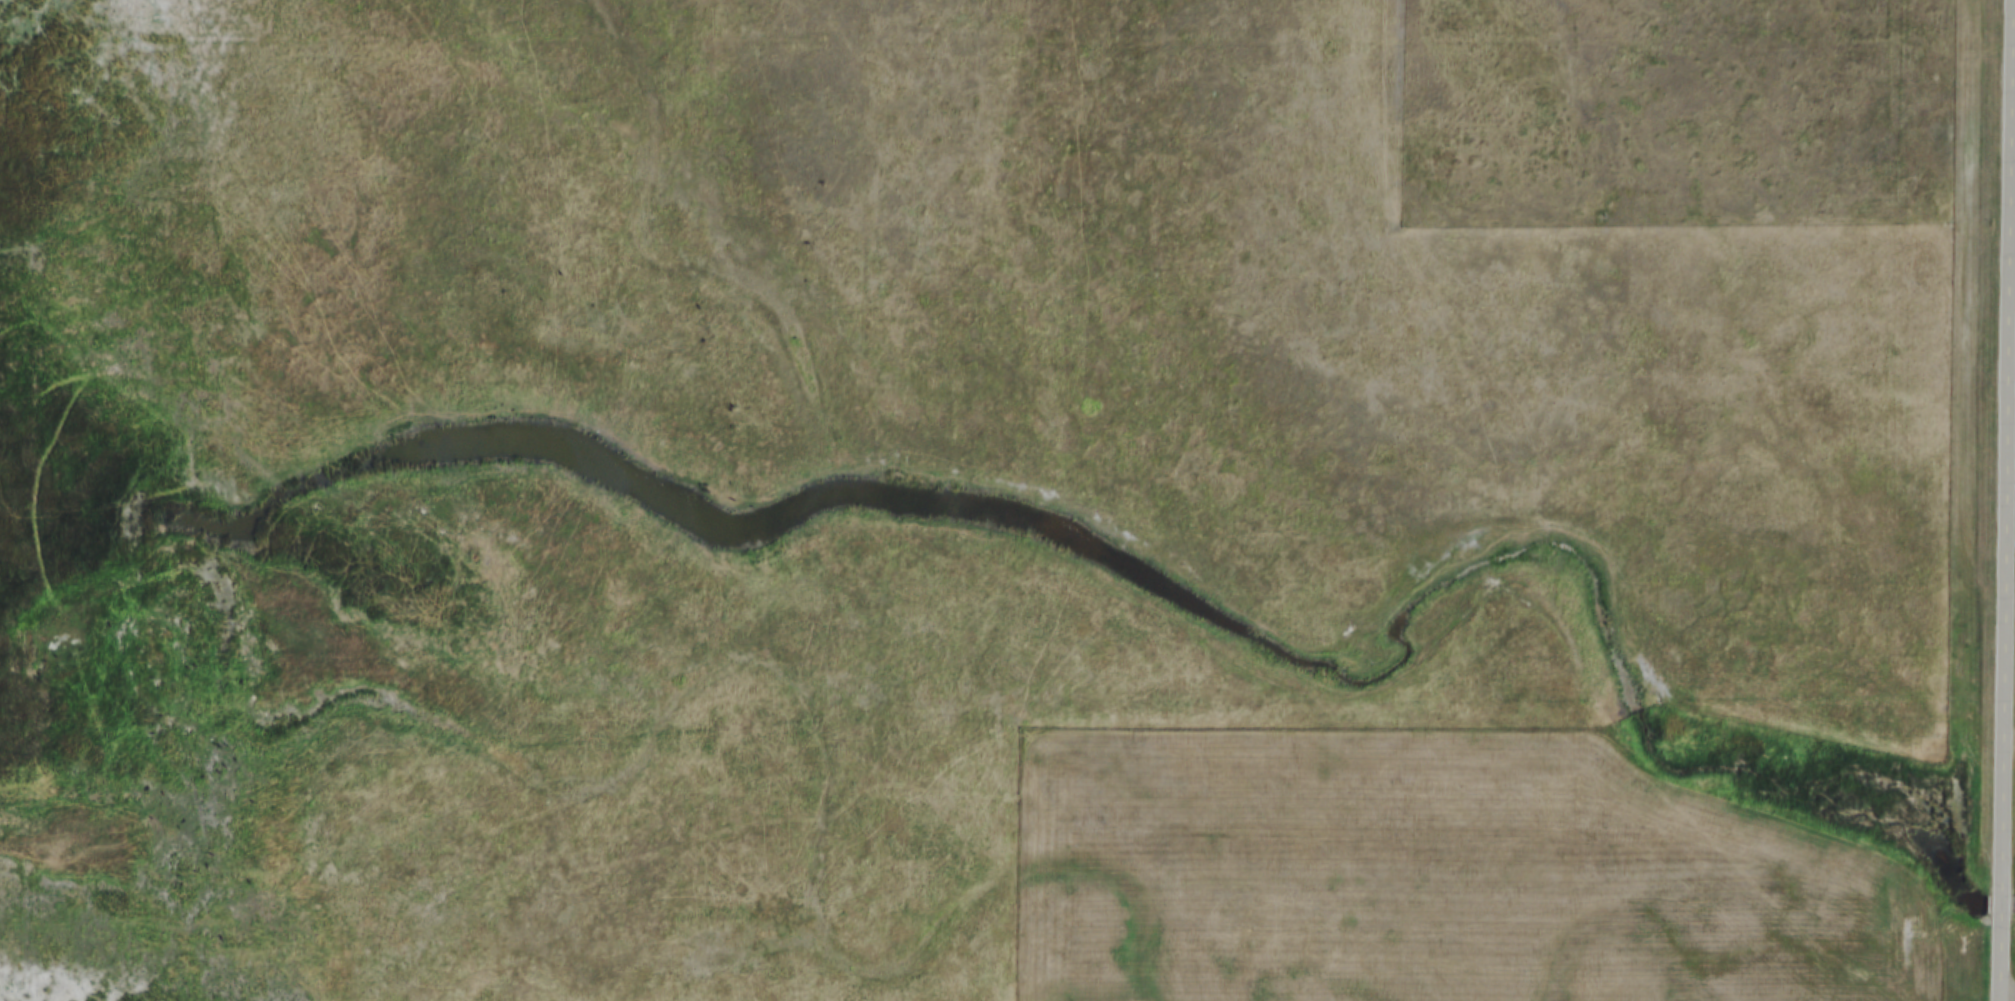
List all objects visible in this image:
road: (2013, 54)
road: (2006, 500)
road: (2005, 998)

